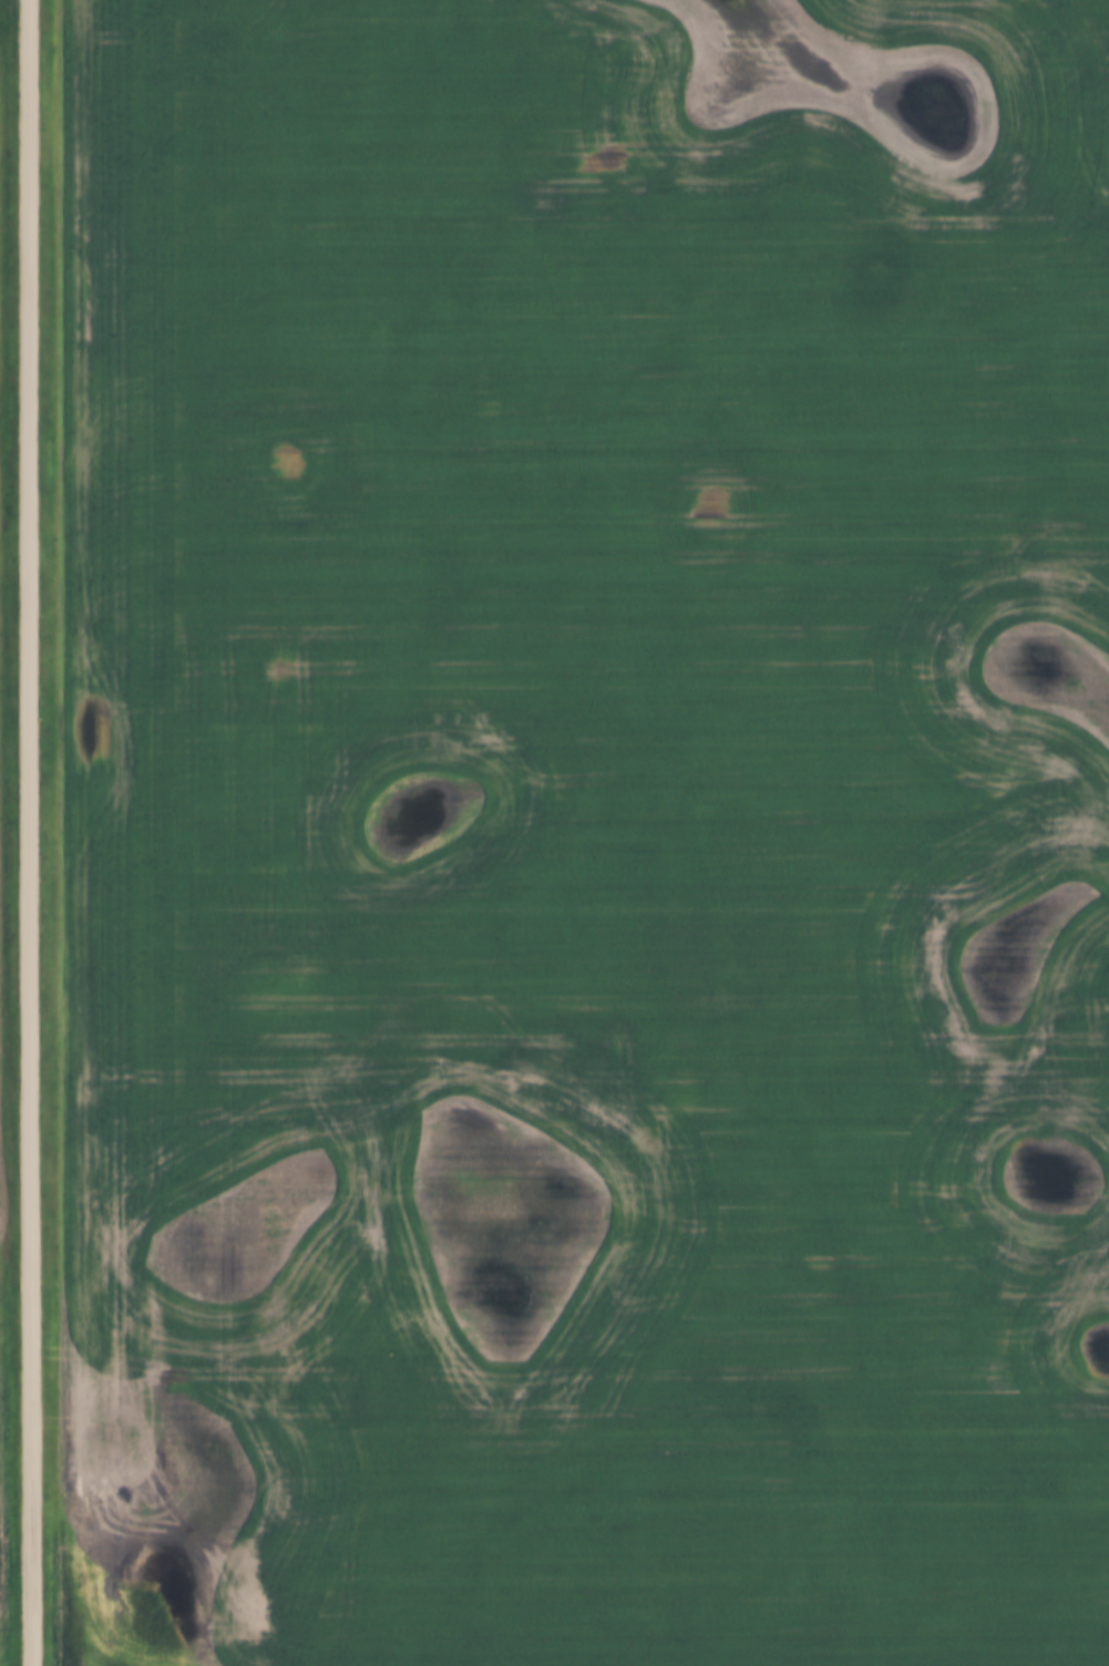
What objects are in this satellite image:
road: (31, 833)

